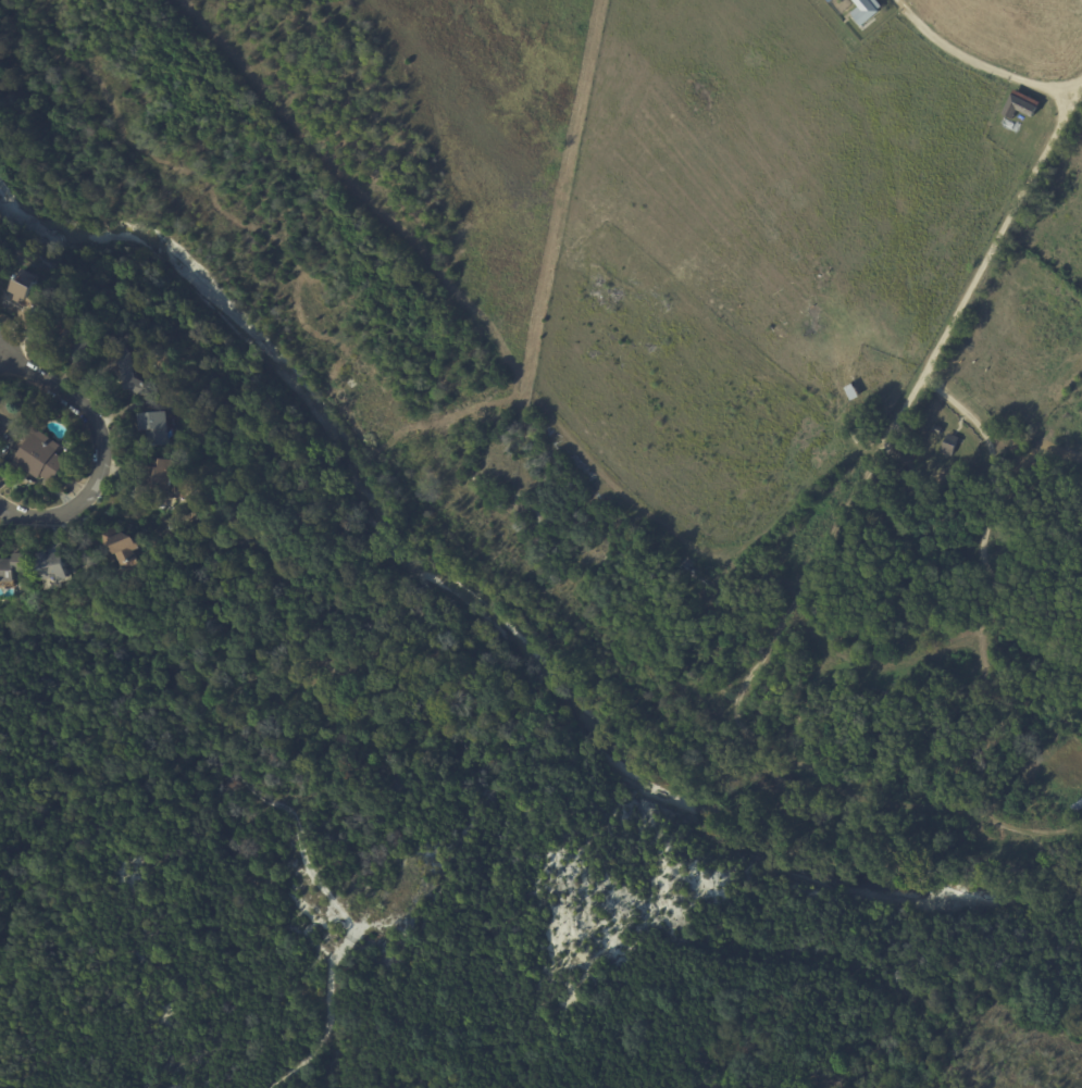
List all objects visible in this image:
building: (865, 12)
road: (968, 57)
road: (1054, 89)
building: (28, 288)
building: (70, 334)
building: (127, 338)
building: (83, 351)
building: (127, 371)
building: (169, 409)
building: (0, 423)
building: (154, 426)
building: (936, 429)
building: (855, 436)
building: (4, 437)
building: (948, 445)
park: (822, 448)
road: (108, 454)
building: (39, 458)
building: (157, 475)
building: (903, 475)
building: (945, 486)
building: (166, 503)
road: (644, 508)
road: (985, 529)
building: (120, 546)
building: (50, 565)
building: (12, 566)
road: (888, 673)
building: (406, 717)
road: (753, 741)
building: (1077, 805)

